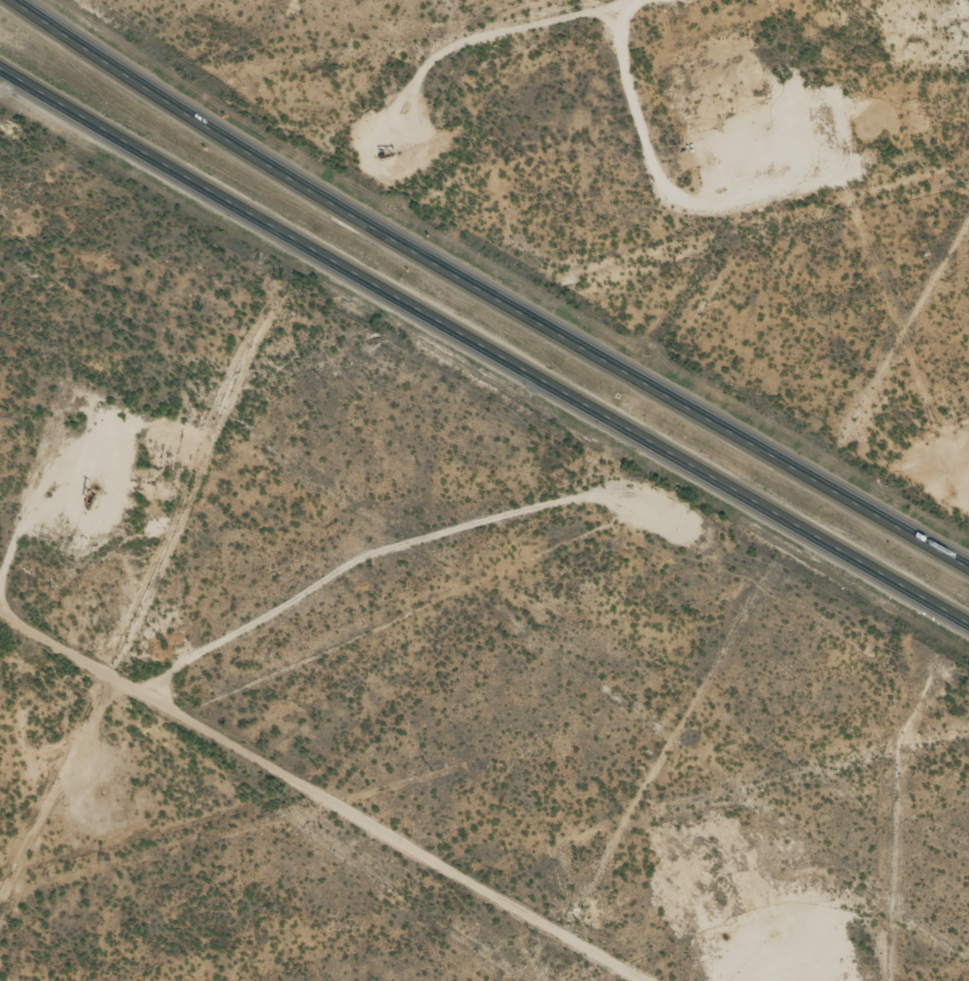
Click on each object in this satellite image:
road: (683, 20)
road: (485, 292)
road: (484, 347)
road: (321, 801)

